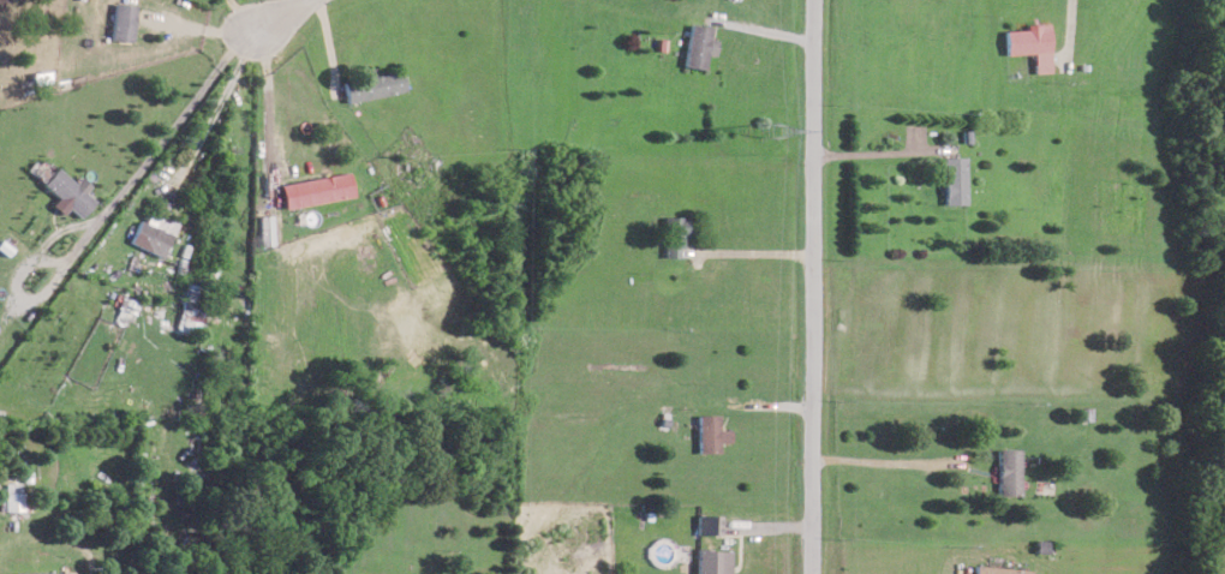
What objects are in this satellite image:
road: (240, 12)
road: (276, 12)
building: (124, 20)
building: (1033, 43)
building: (699, 44)
building: (374, 85)
road: (267, 90)
power tower: (783, 131)
road: (878, 151)
road: (149, 159)
building: (955, 179)
building: (316, 189)
building: (65, 190)
building: (153, 232)
building: (674, 235)
road: (752, 251)
road: (817, 286)
building: (192, 309)
building: (711, 432)
building: (1008, 471)
building: (13, 496)
building: (710, 524)
building: (712, 561)
building: (1002, 569)
building: (37, 572)

